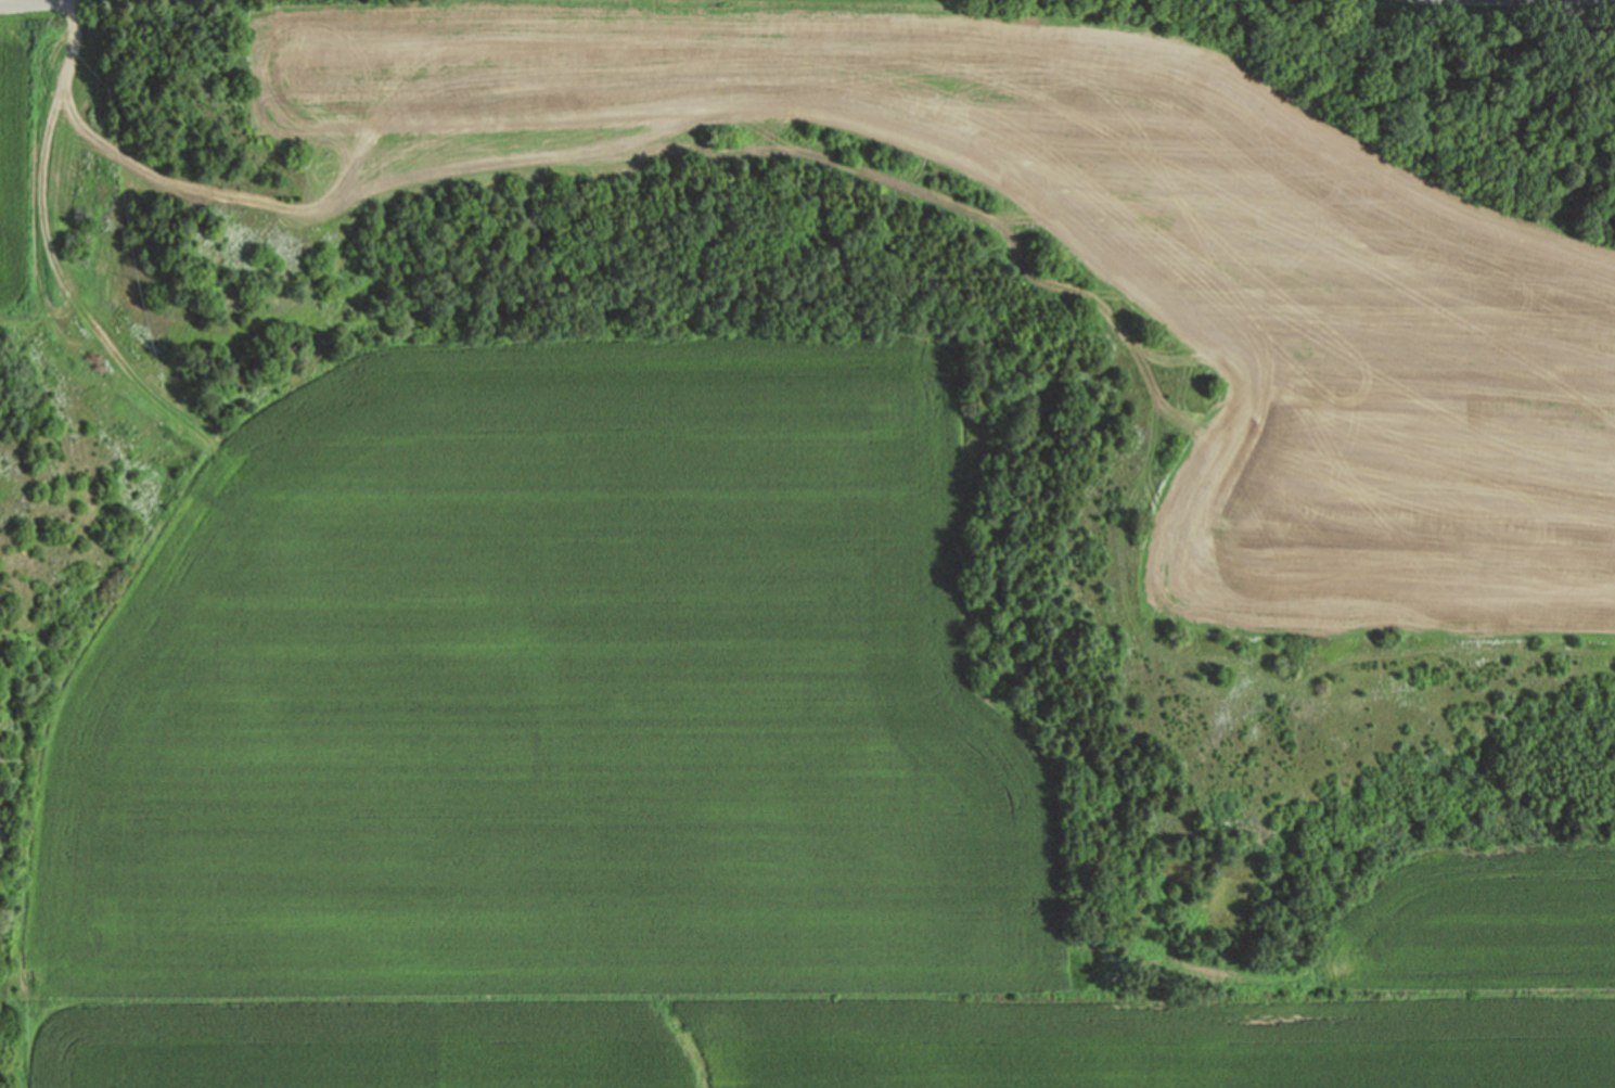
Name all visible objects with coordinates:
road: (29, 3)
road: (999, 227)
road: (54, 255)

